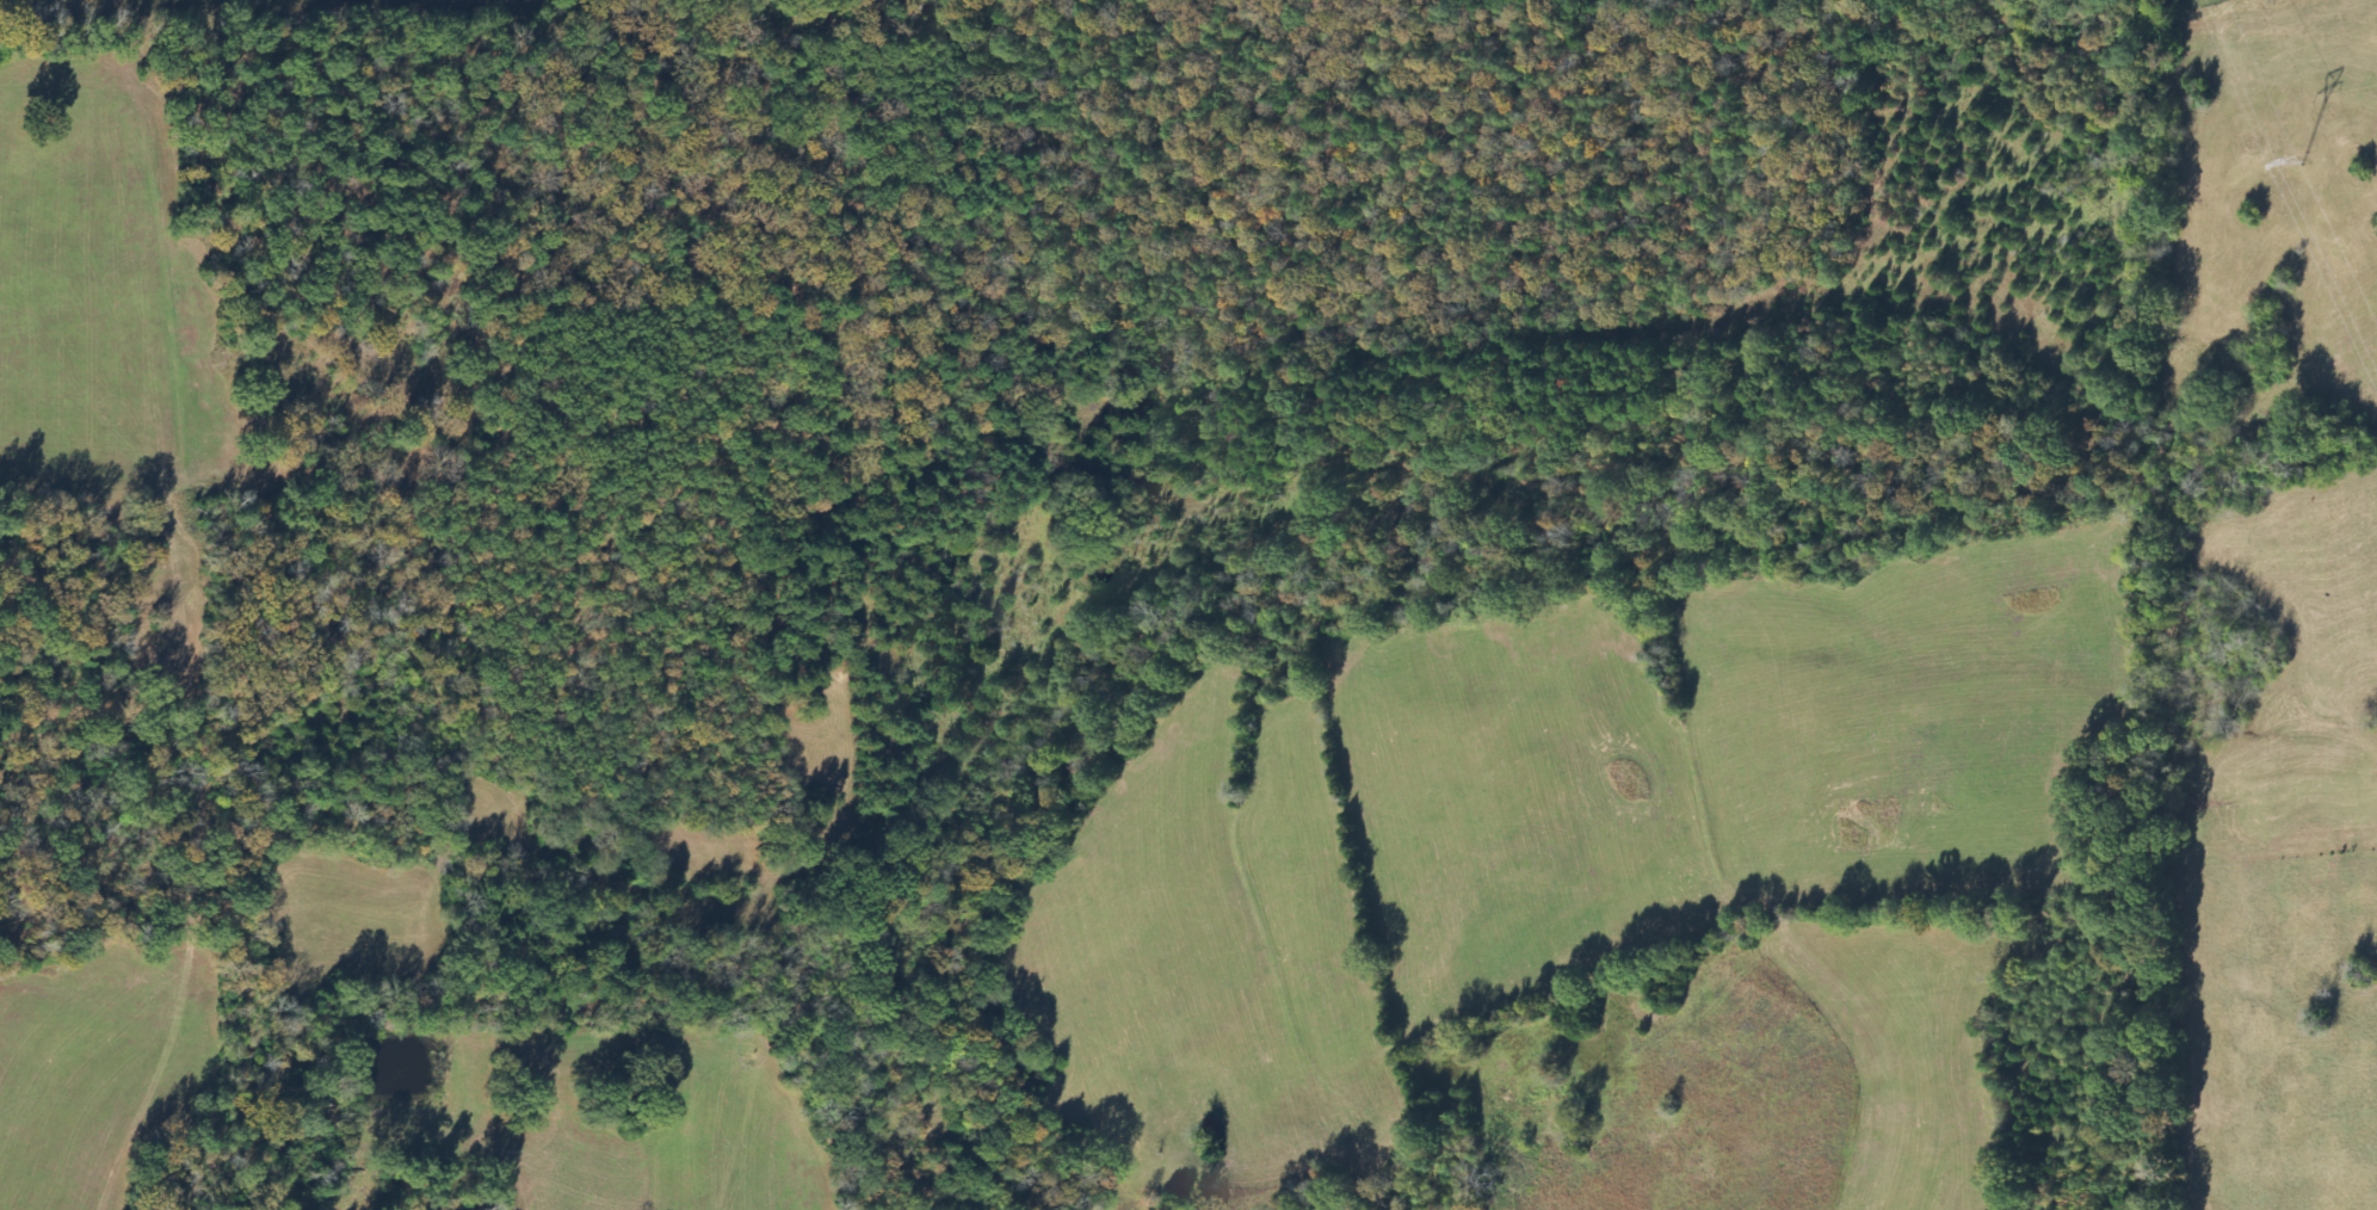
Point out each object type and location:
power tower: (2299, 163)

